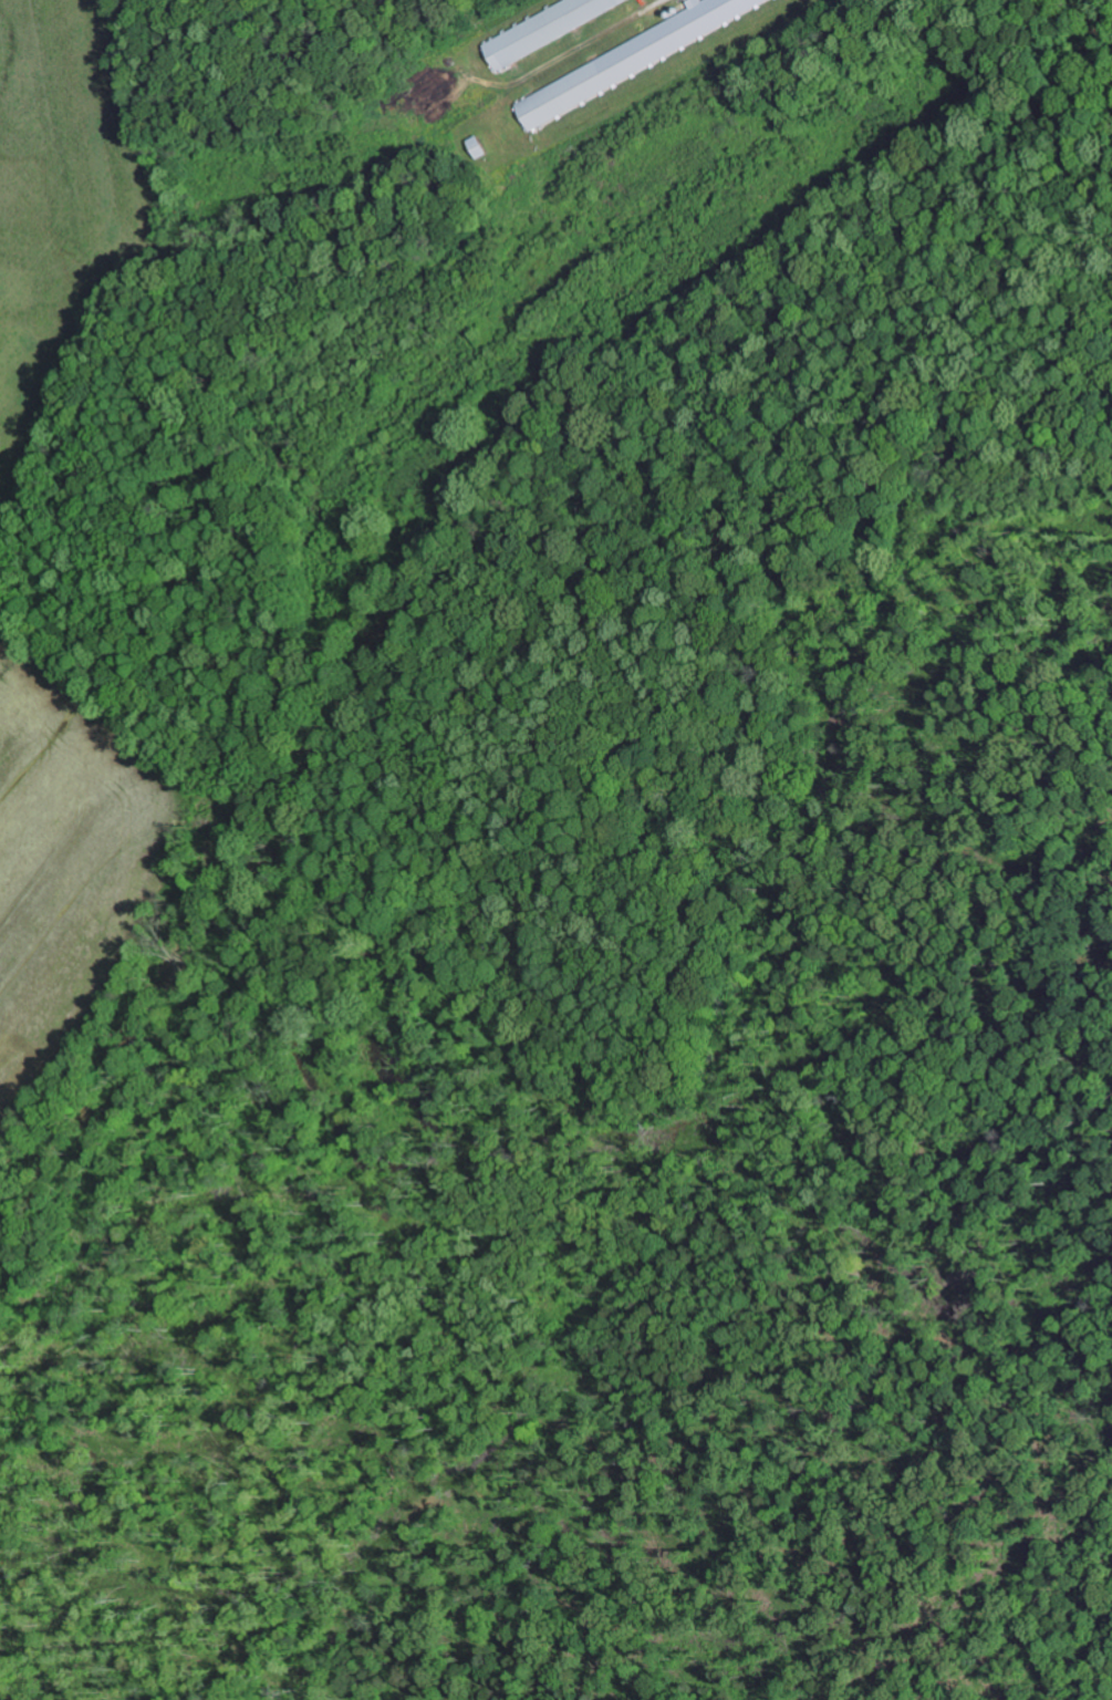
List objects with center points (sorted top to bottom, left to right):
building: (539, 27)
building: (633, 55)

